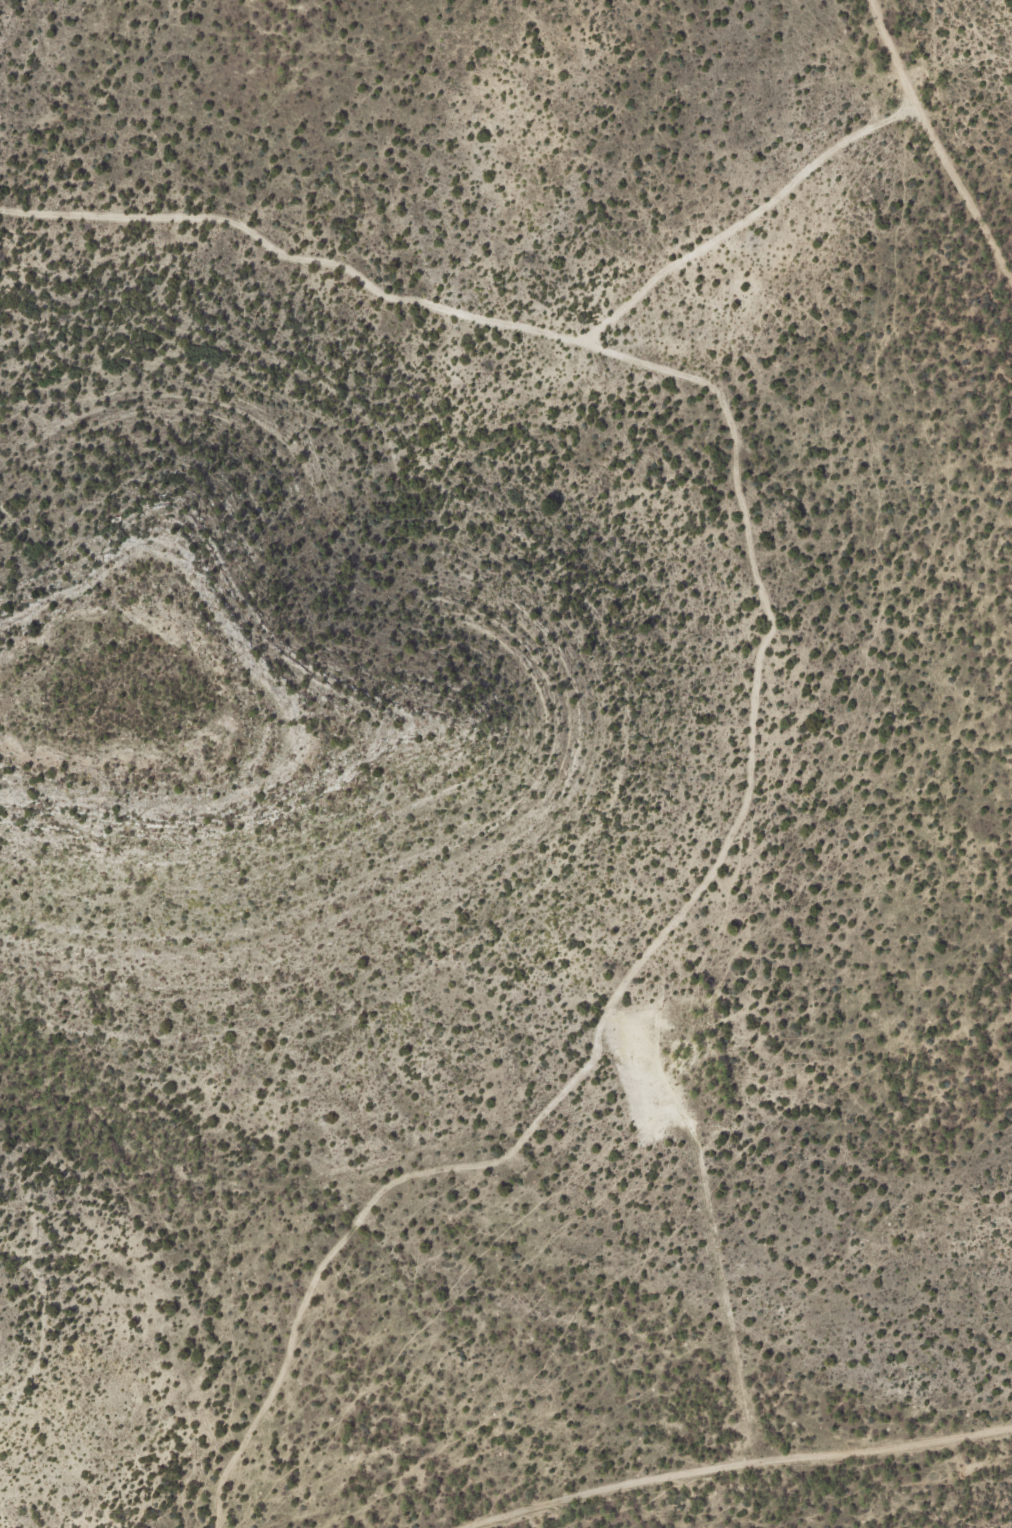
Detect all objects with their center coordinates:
road: (935, 146)
road: (744, 223)
road: (758, 687)
road: (706, 1205)
road: (744, 1465)

